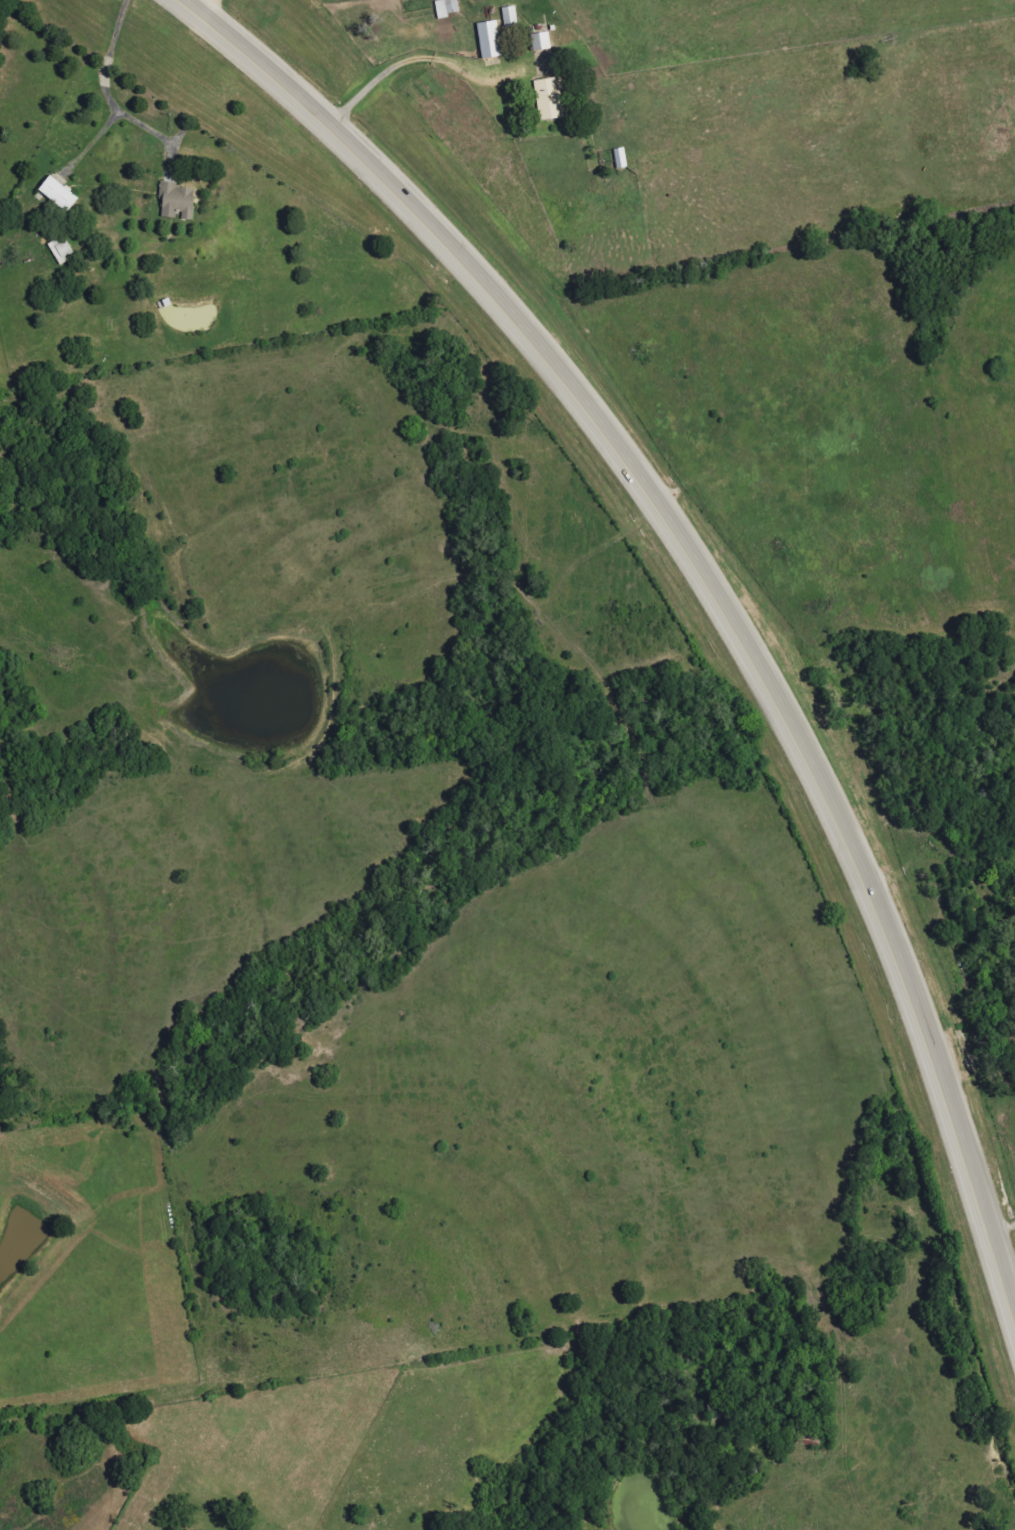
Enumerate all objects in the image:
building: (448, 8)
road: (200, 9)
building: (511, 17)
building: (490, 41)
building: (542, 42)
road: (406, 62)
road: (104, 88)
building: (551, 99)
building: (621, 159)
building: (59, 195)
building: (178, 202)
road: (706, 586)

